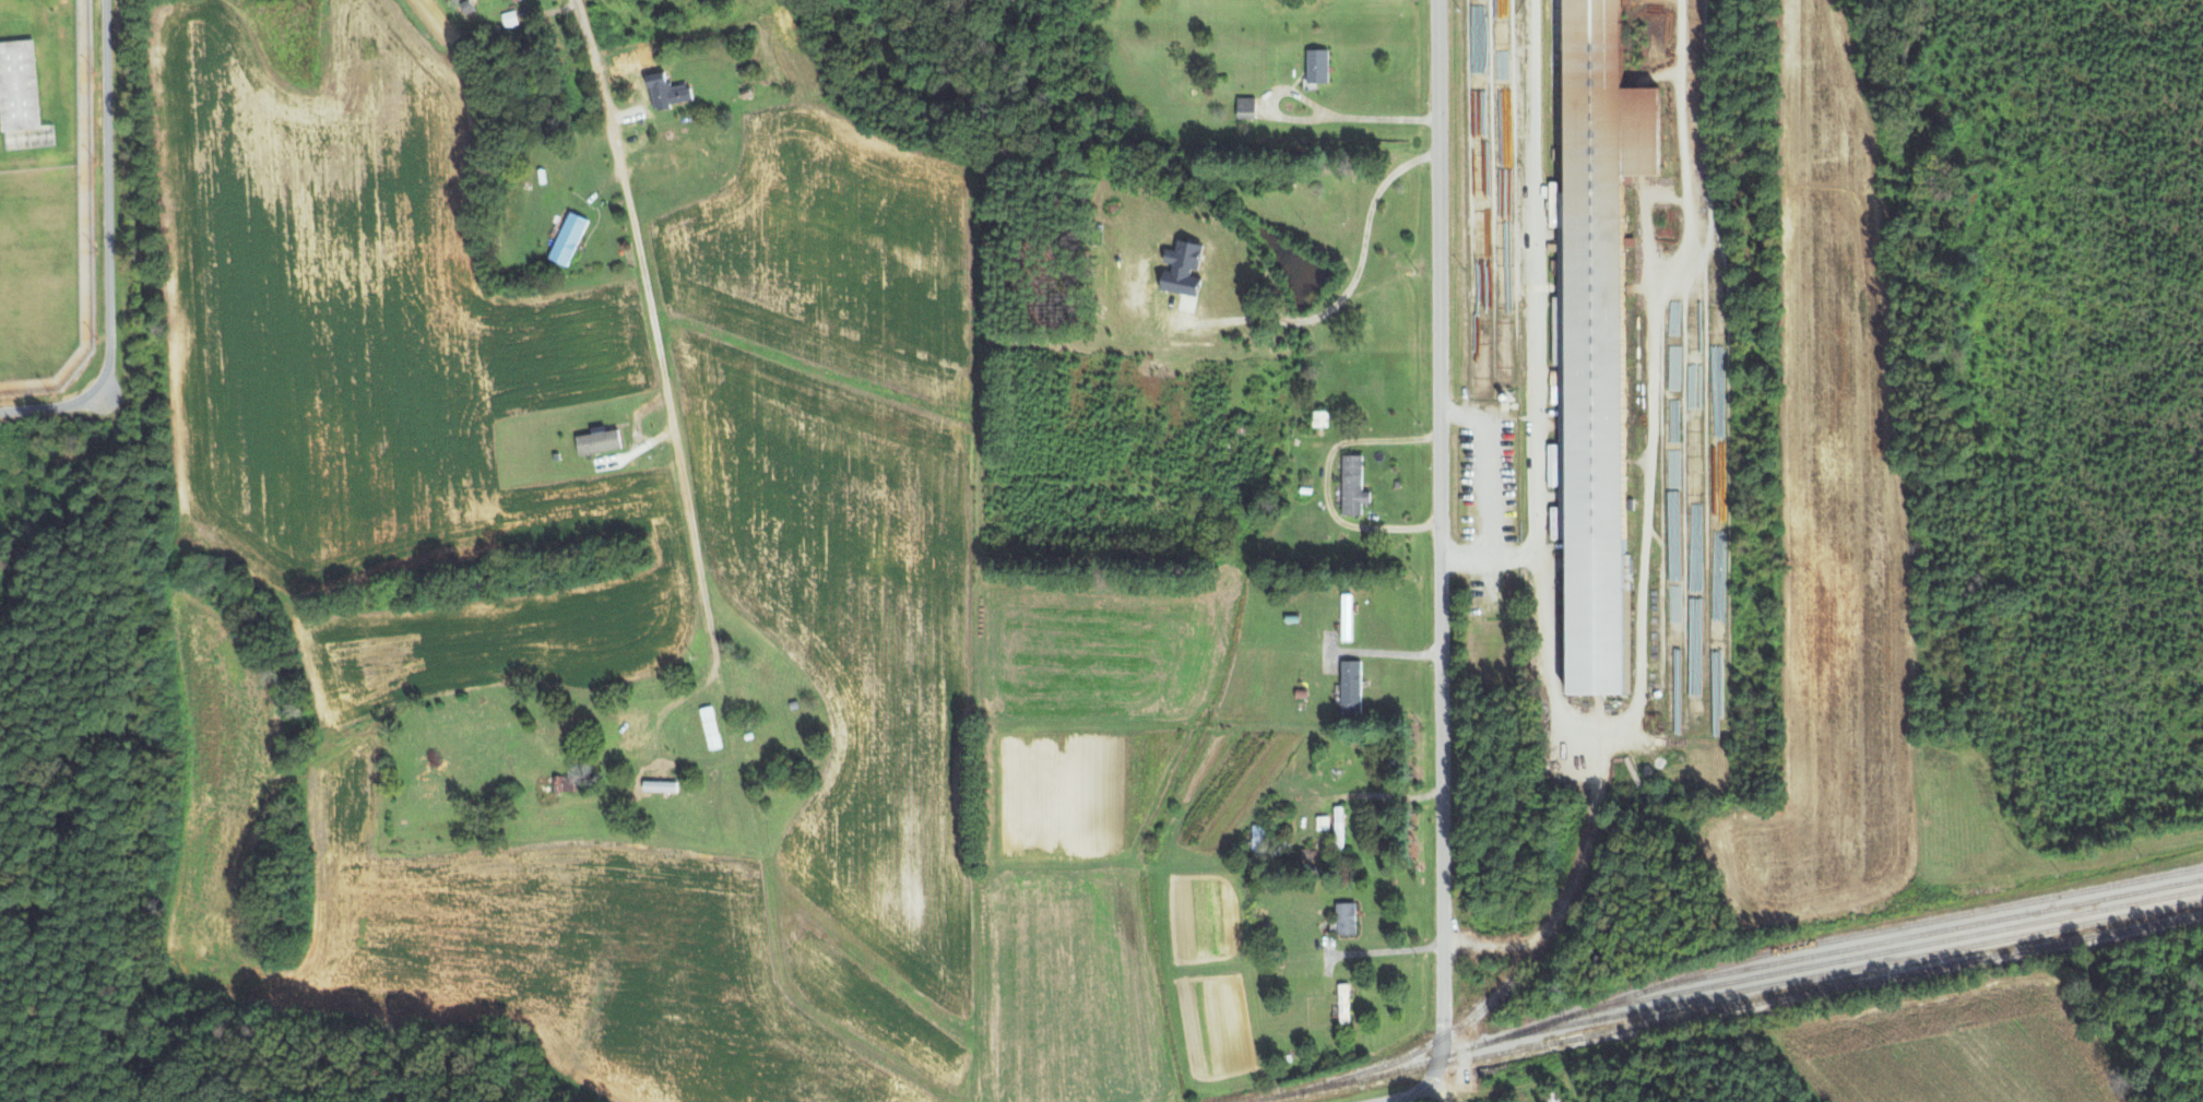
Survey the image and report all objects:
building: (510, 19)
building: (1318, 66)
road: (599, 87)
building: (19, 88)
building: (670, 93)
building: (1247, 107)
road: (1310, 119)
building: (659, 163)
building: (569, 239)
road: (108, 247)
building: (1599, 337)
building: (1322, 418)
road: (671, 428)
building: (600, 442)
road: (1324, 478)
building: (1354, 486)
road: (1436, 574)
building: (1348, 617)
building: (1352, 687)
building: (711, 728)
building: (566, 783)
building: (1323, 823)
building: (1339, 828)
building: (1260, 838)
building: (1347, 917)
road: (1386, 949)
railway: (1724, 997)
building: (1345, 1003)

